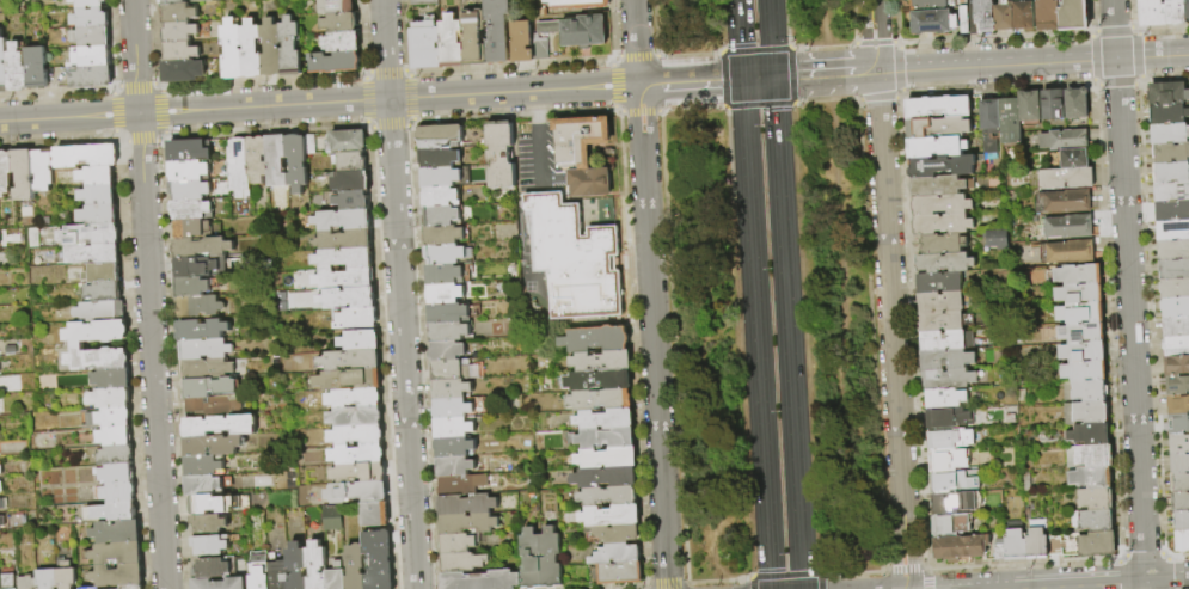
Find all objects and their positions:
building: (183, 1)
building: (424, 2)
building: (90, 4)
building: (927, 4)
building: (577, 5)
building: (337, 7)
building: (1187, 10)
building: (1175, 12)
building: (179, 13)
building: (1151, 13)
building: (985, 16)
building: (1004, 16)
building: (1023, 16)
building: (1048, 16)
building: (1074, 16)
building: (91, 19)
building: (963, 19)
building: (932, 22)
building: (339, 23)
building: (497, 31)
building: (580, 31)
building: (180, 32)
road: (972, 33)
building: (92, 37)
road: (771, 38)
building: (476, 39)
road: (740, 39)
building: (342, 42)
building: (453, 42)
building: (522, 43)
building: (427, 45)
building: (292, 48)
building: (252, 49)
building: (271, 49)
building: (233, 50)
building: (543, 50)
building: (182, 51)
road: (1152, 55)
building: (90, 57)
road: (1102, 59)
building: (336, 62)
building: (4, 65)
road: (982, 66)
building: (37, 68)
building: (17, 69)
building: (184, 72)
road: (865, 72)
road: (827, 75)
road: (786, 76)
building: (93, 78)
traffic signals: (773, 78)
road: (758, 79)
traffic signals: (742, 80)
road: (703, 81)
road: (651, 85)
building: (1167, 94)
building: (1075, 103)
road: (319, 104)
building: (1052, 105)
building: (938, 108)
building: (1029, 108)
road: (537, 109)
building: (1167, 115)
building: (989, 116)
building: (1009, 121)
building: (937, 127)
road: (744, 131)
building: (1169, 134)
building: (440, 136)
building: (1064, 140)
building: (348, 142)
building: (311, 145)
building: (934, 147)
building: (989, 148)
building: (190, 151)
building: (582, 153)
building: (1170, 153)
building: (499, 155)
building: (86, 157)
road: (540, 157)
building: (439, 158)
building: (1072, 158)
building: (259, 159)
building: (277, 161)
building: (351, 162)
building: (298, 164)
building: (940, 166)
building: (240, 168)
building: (43, 171)
building: (190, 171)
building: (1171, 172)
building: (6, 174)
building: (24, 174)
building: (97, 177)
building: (440, 178)
building: (1065, 178)
building: (351, 182)
building: (938, 185)
building: (190, 190)
building: (1171, 191)
building: (99, 196)
building: (440, 197)
building: (353, 201)
building: (1066, 201)
building: (940, 204)
building: (192, 210)
building: (1172, 211)
building: (99, 215)
building: (441, 216)
building: (344, 220)
building: (940, 223)
building: (1068, 226)
building: (191, 229)
building: (1172, 231)
building: (91, 235)
building: (443, 235)
building: (995, 239)
building: (345, 240)
building: (942, 244)
building: (202, 247)
building: (1172, 250)
building: (1070, 252)
building: (93, 254)
building: (447, 254)
building: (345, 259)
building: (575, 259)
building: (944, 263)
building: (196, 268)
building: (1173, 269)
building: (105, 274)
building: (447, 275)
building: (1077, 275)
building: (345, 280)
building: (938, 282)
road: (841, 286)
building: (191, 287)
building: (1173, 289)
building: (105, 293)
road: (148, 294)
road: (399, 294)
building: (445, 294)
road: (650, 294)
park: (770, 294)
road: (889, 294)
building: (1079, 294)
road: (1129, 294)
building: (349, 299)
building: (939, 302)
building: (200, 307)
building: (1175, 308)
building: (102, 312)
building: (449, 313)
building: (1079, 314)
building: (355, 319)
building: (939, 320)
building: (1176, 327)
building: (202, 330)
building: (97, 332)
building: (448, 332)
road: (787, 332)
building: (1080, 332)
building: (595, 339)
building: (944, 339)
building: (361, 340)
building: (1176, 346)
building: (206, 350)
building: (447, 351)
building: (1081, 351)
building: (99, 360)
building: (944, 360)
building: (350, 361)
building: (600, 361)
building: (1176, 366)
building: (207, 369)
building: (451, 370)
building: (1083, 370)
building: (114, 379)
building: (946, 379)
building: (350, 380)
building: (597, 380)
building: (8, 384)
road: (759, 386)
building: (1177, 386)
building: (210, 387)
building: (451, 389)
building: (1085, 391)
building: (944, 398)
building: (111, 399)
building: (355, 399)
building: (599, 399)
building: (1178, 405)
building: (214, 406)
building: (452, 409)
building: (1084, 412)
building: (115, 418)
building: (356, 418)
building: (946, 418)
building: (603, 419)
building: (1178, 424)
building: (220, 427)
building: (453, 428)
building: (1089, 434)
building: (357, 436)
building: (116, 437)
building: (601, 438)
building: (948, 440)
building: (1179, 443)
building: (213, 446)
building: (454, 447)
building: (358, 455)
building: (1087, 455)
building: (116, 456)
building: (606, 458)
building: (946, 460)
building: (1179, 464)
building: (203, 466)
building: (454, 467)
building: (1, 471)
building: (360, 473)
building: (118, 474)
building: (603, 477)
building: (1090, 477)
building: (954, 481)
building: (1179, 483)
building: (460, 485)
building: (204, 486)
building: (1, 487)
building: (119, 492)
building: (358, 492)
building: (607, 496)
building: (1095, 499)
building: (955, 502)
building: (1181, 502)
building: (4, 504)
building: (216, 504)
building: (466, 505)
building: (114, 513)
building: (376, 515)
building: (611, 515)
building: (333, 519)
building: (1092, 520)
building: (1181, 521)
building: (2, 522)
building: (467, 523)
building: (951, 523)
building: (209, 524)
building: (117, 533)
building: (614, 533)
building: (1182, 541)
building: (459, 542)
building: (1036, 544)
building: (1096, 544)
building: (1053, 545)
building: (210, 546)
building: (1015, 546)
building: (958, 547)
building: (998, 552)
building: (117, 553)
building: (615, 553)
building: (551, 559)
building: (380, 560)
building: (532, 560)
building: (462, 563)
building: (317, 565)
building: (298, 566)
building: (356, 567)
building: (212, 569)
road: (874, 571)
building: (259, 572)
road: (839, 572)
building: (619, 573)
building: (66, 575)
building: (278, 575)
road: (784, 575)
building: (118, 576)
building: (338, 577)
building: (48, 579)
building: (480, 581)
road: (817, 581)
building: (10, 582)
building: (29, 583)
road: (750, 583)
building: (220, 584)
road: (1117, 584)
building: (93, 588)
building: (131, 588)

